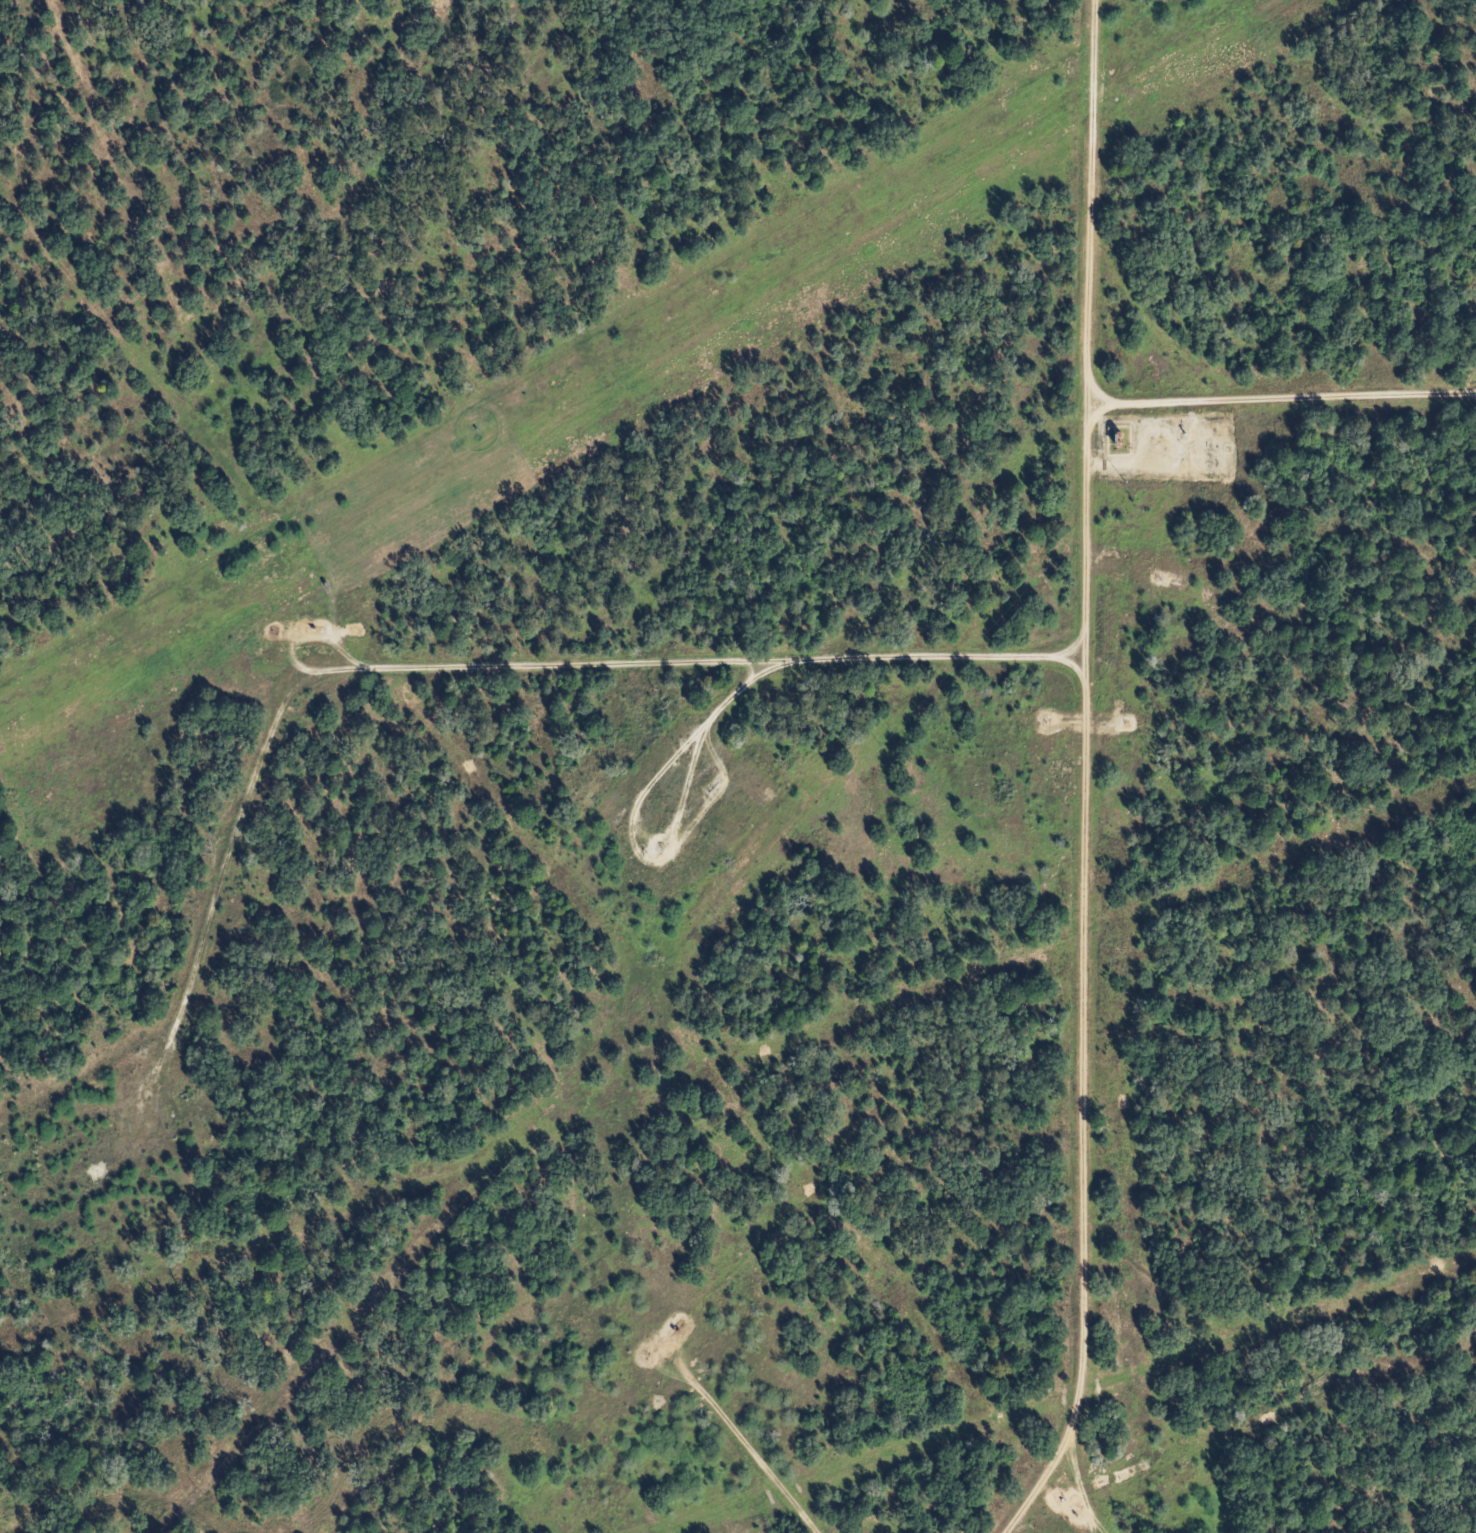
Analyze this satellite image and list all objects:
road: (1286, 393)
road: (1141, 561)
road: (696, 664)
road: (1085, 776)
road: (742, 1435)

